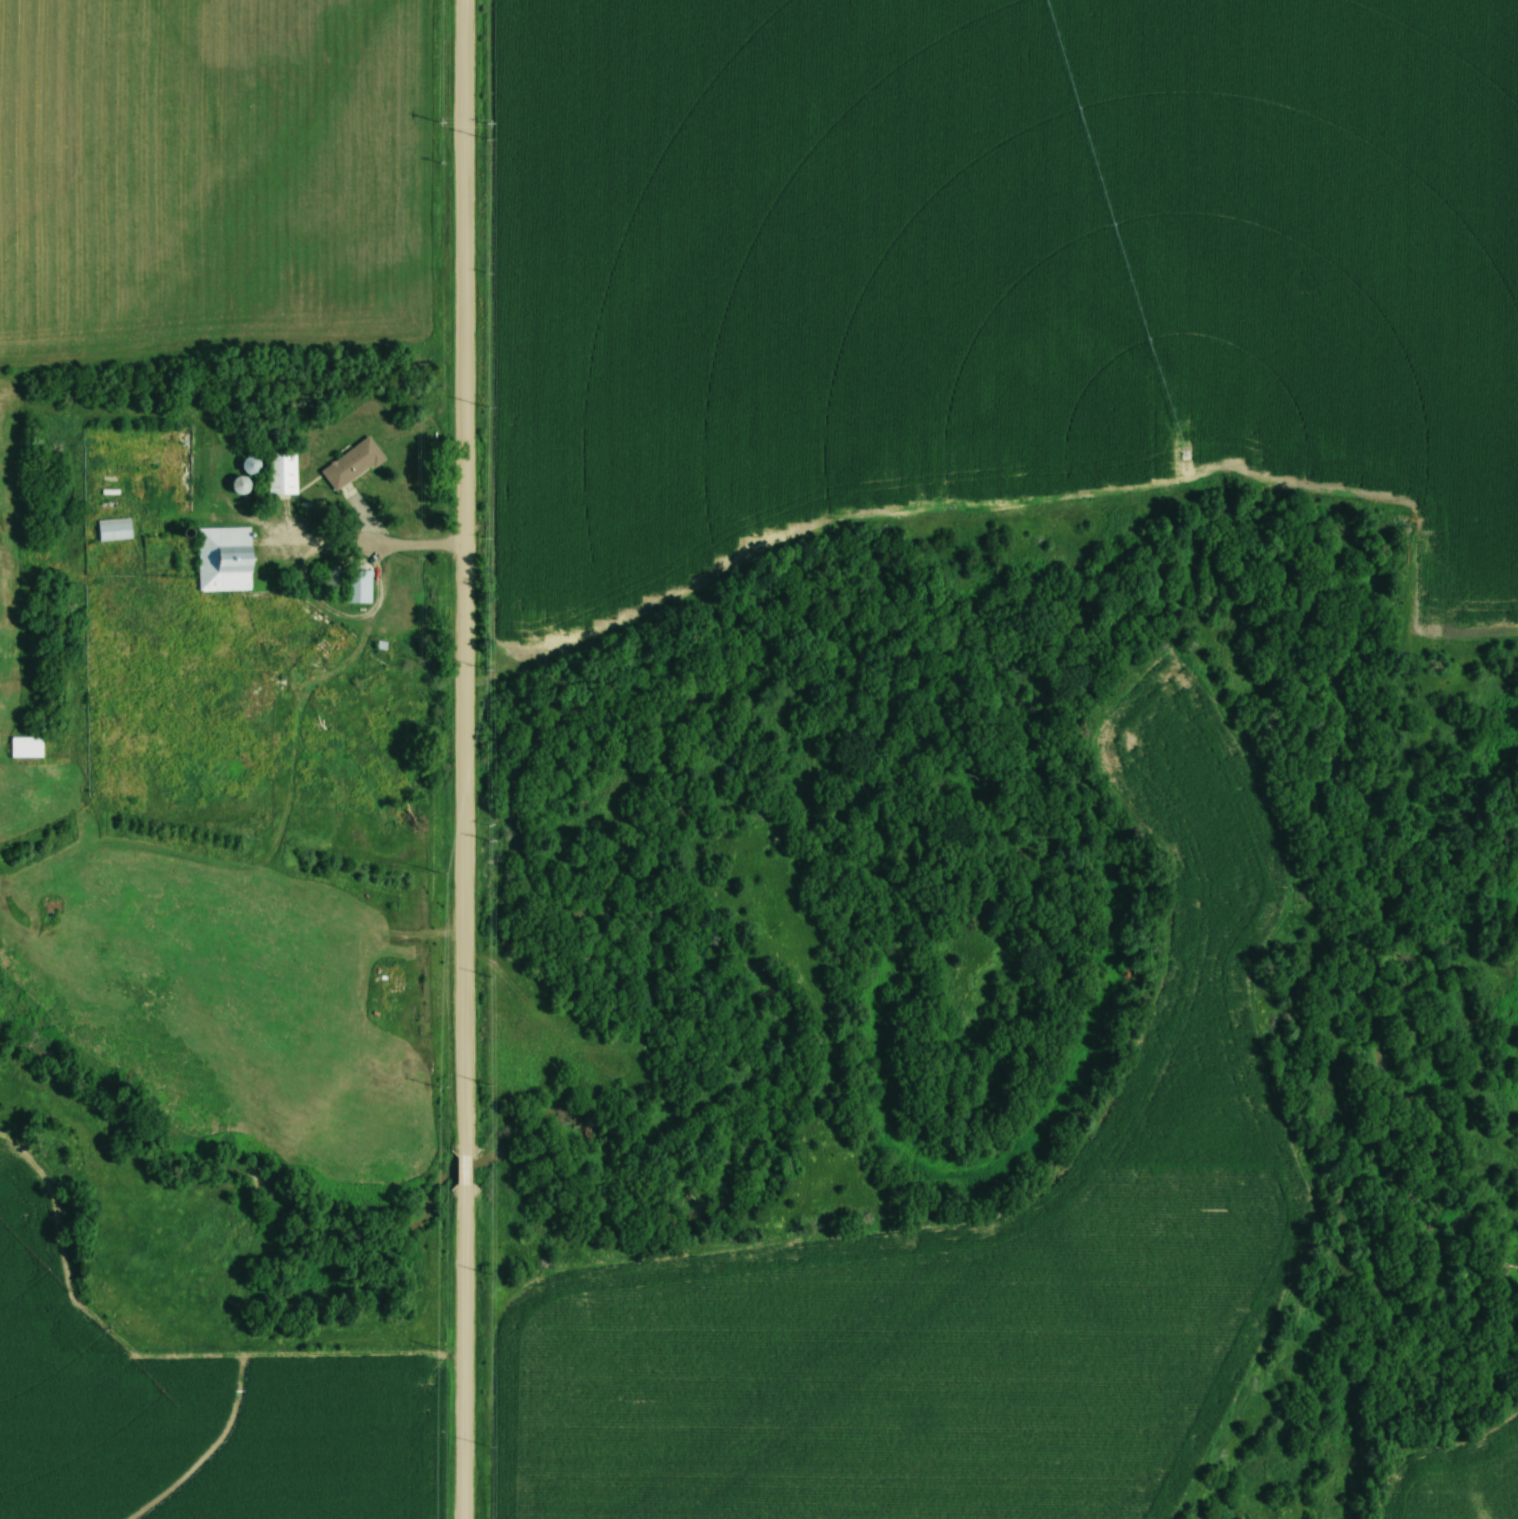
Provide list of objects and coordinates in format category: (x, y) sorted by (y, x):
crop: (217, 169)
crop: (994, 262)
building: (348, 465)
building: (247, 466)
building: (278, 475)
building: (110, 530)
road: (383, 540)
building: (220, 560)
building: (353, 588)
building: (22, 748)
road: (470, 759)

